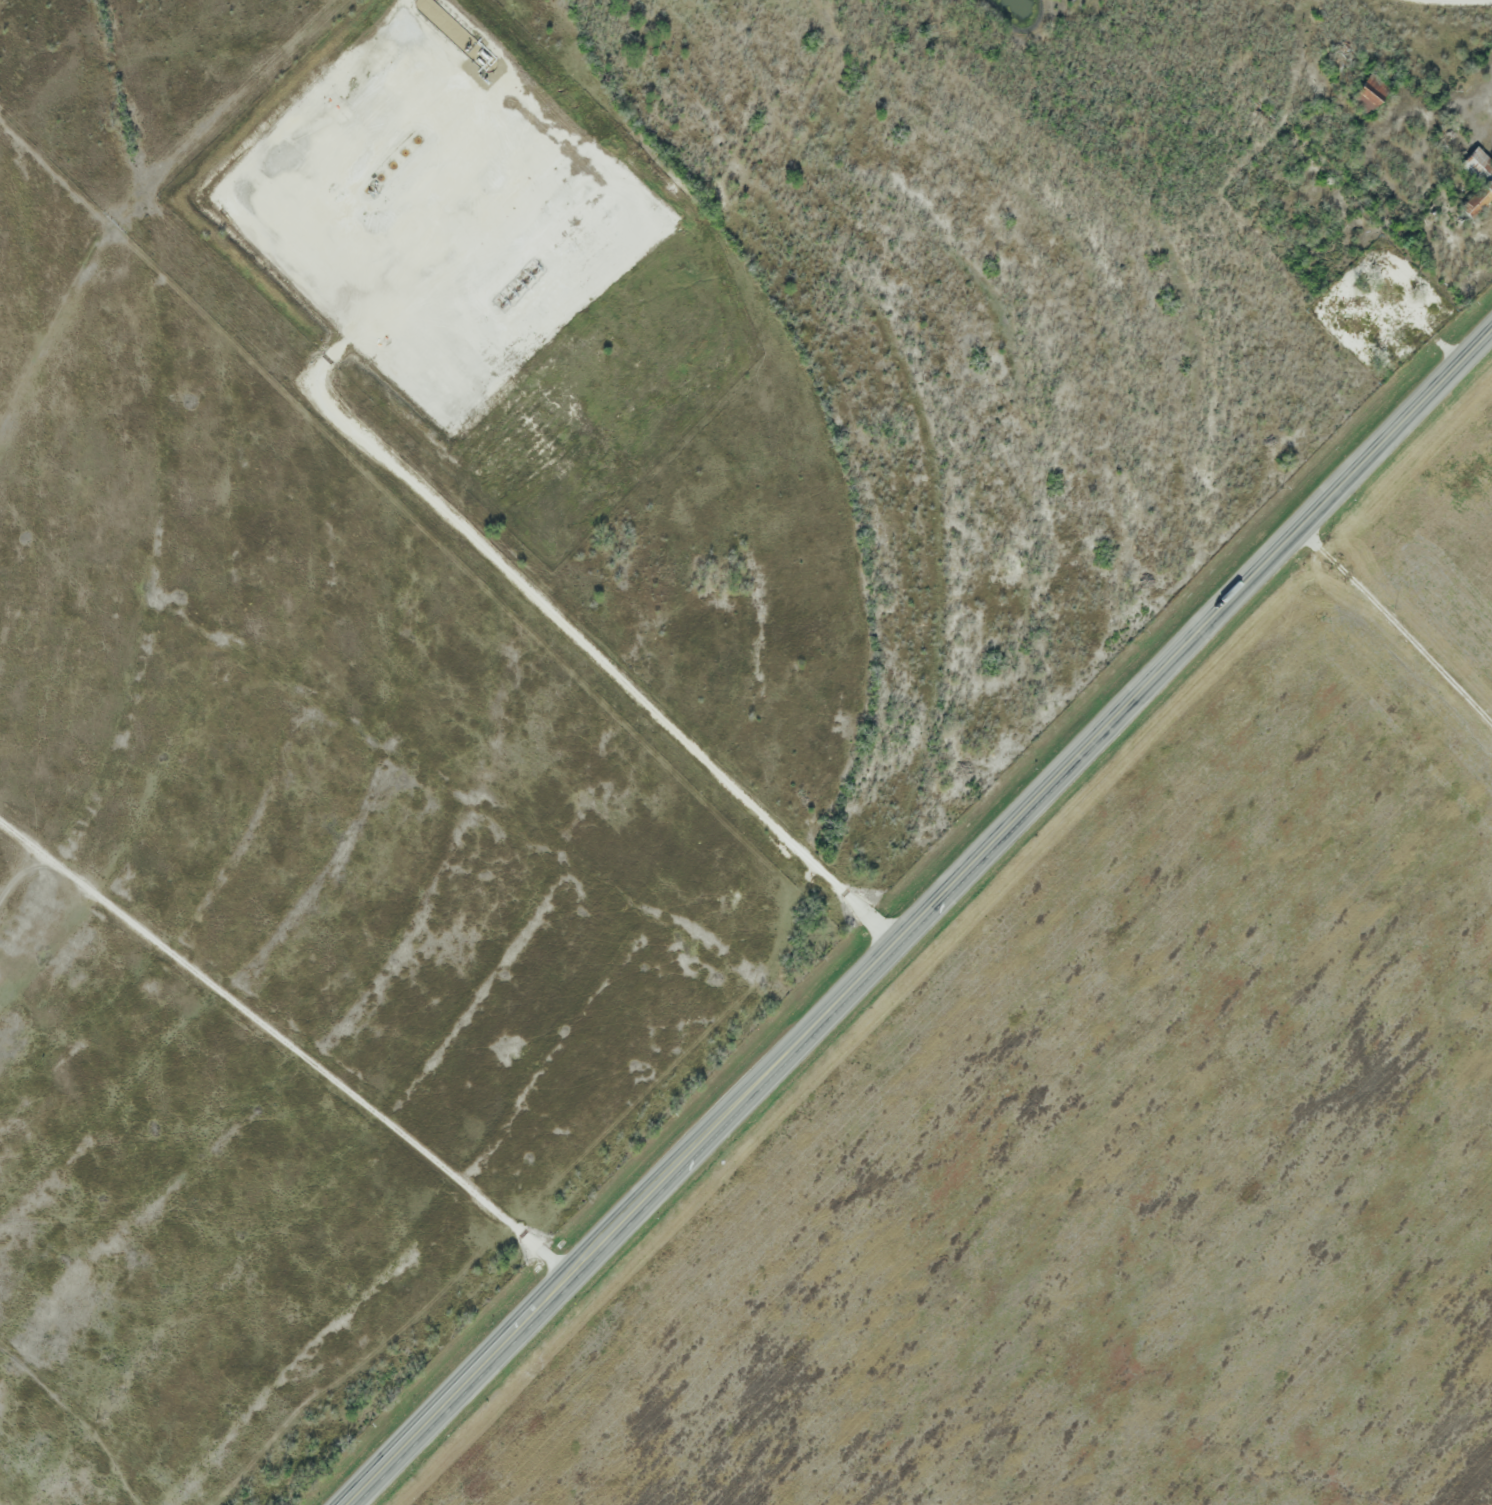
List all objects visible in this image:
building: (1362, 100)
building: (1467, 165)
road: (373, 349)
road: (1397, 632)
road: (922, 919)

